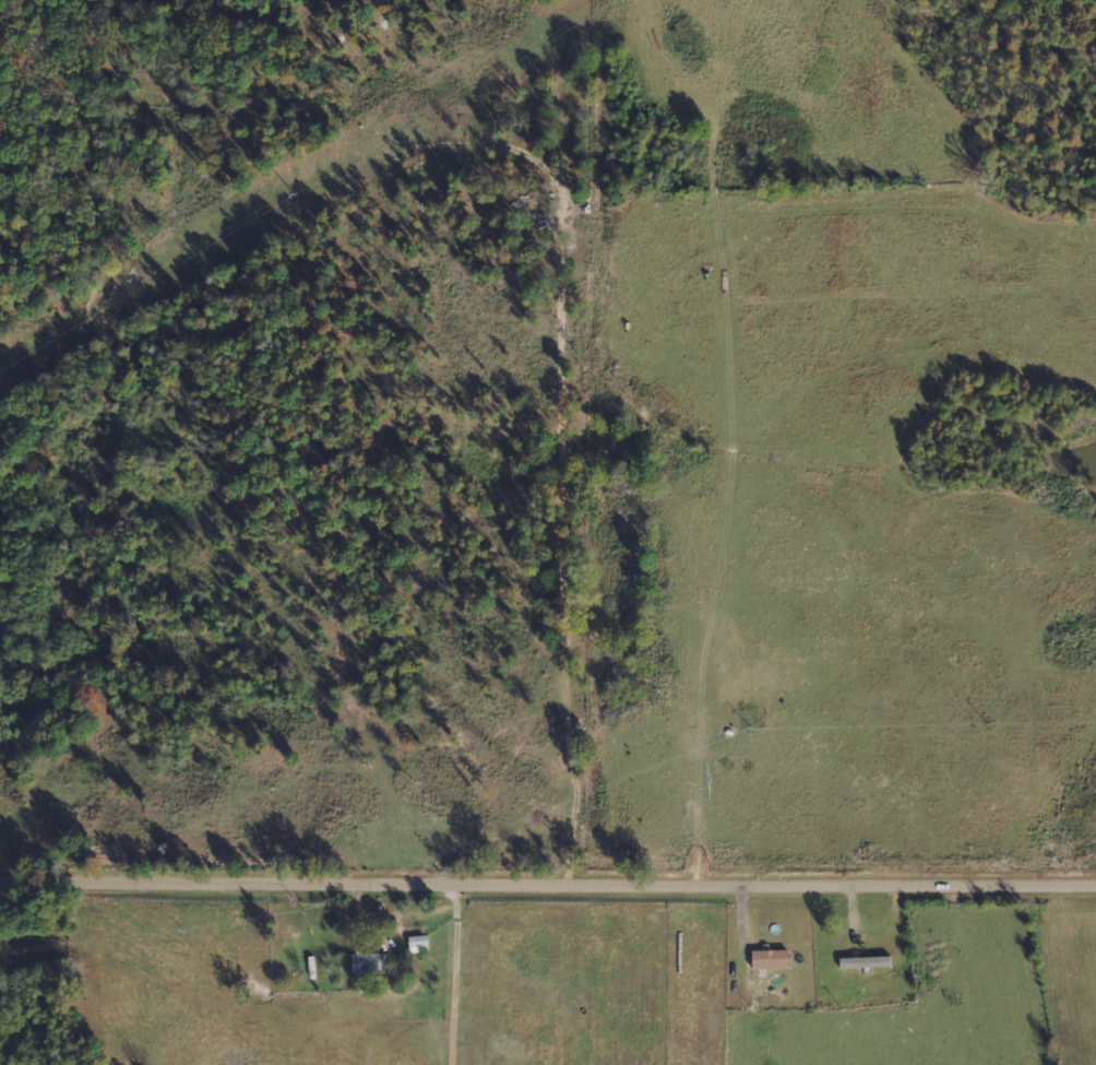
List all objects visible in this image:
road: (548, 879)
building: (418, 944)
building: (771, 959)
building: (370, 962)
building: (866, 962)
road: (951, 973)

